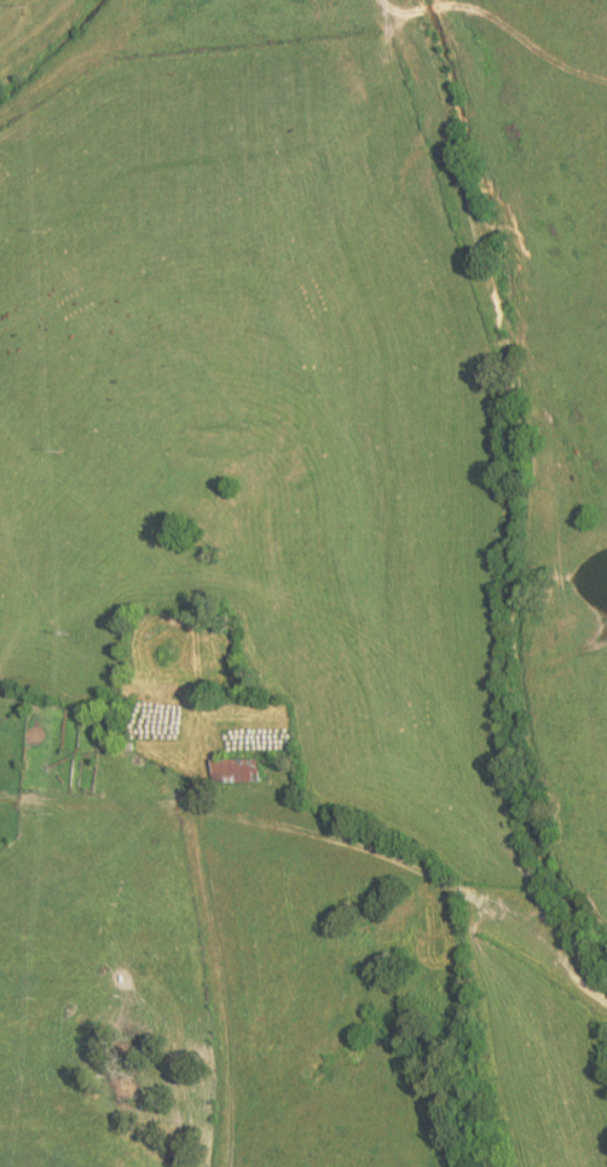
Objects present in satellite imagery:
building: (231, 771)
road: (226, 985)

